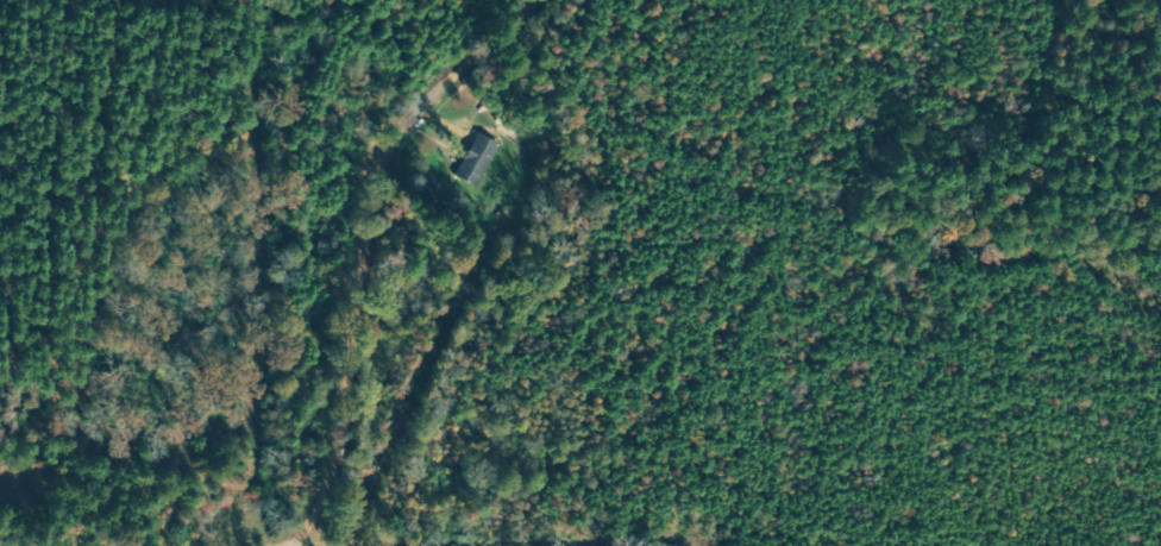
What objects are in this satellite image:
building: (477, 159)
road: (426, 227)
road: (195, 534)
road: (462, 538)

